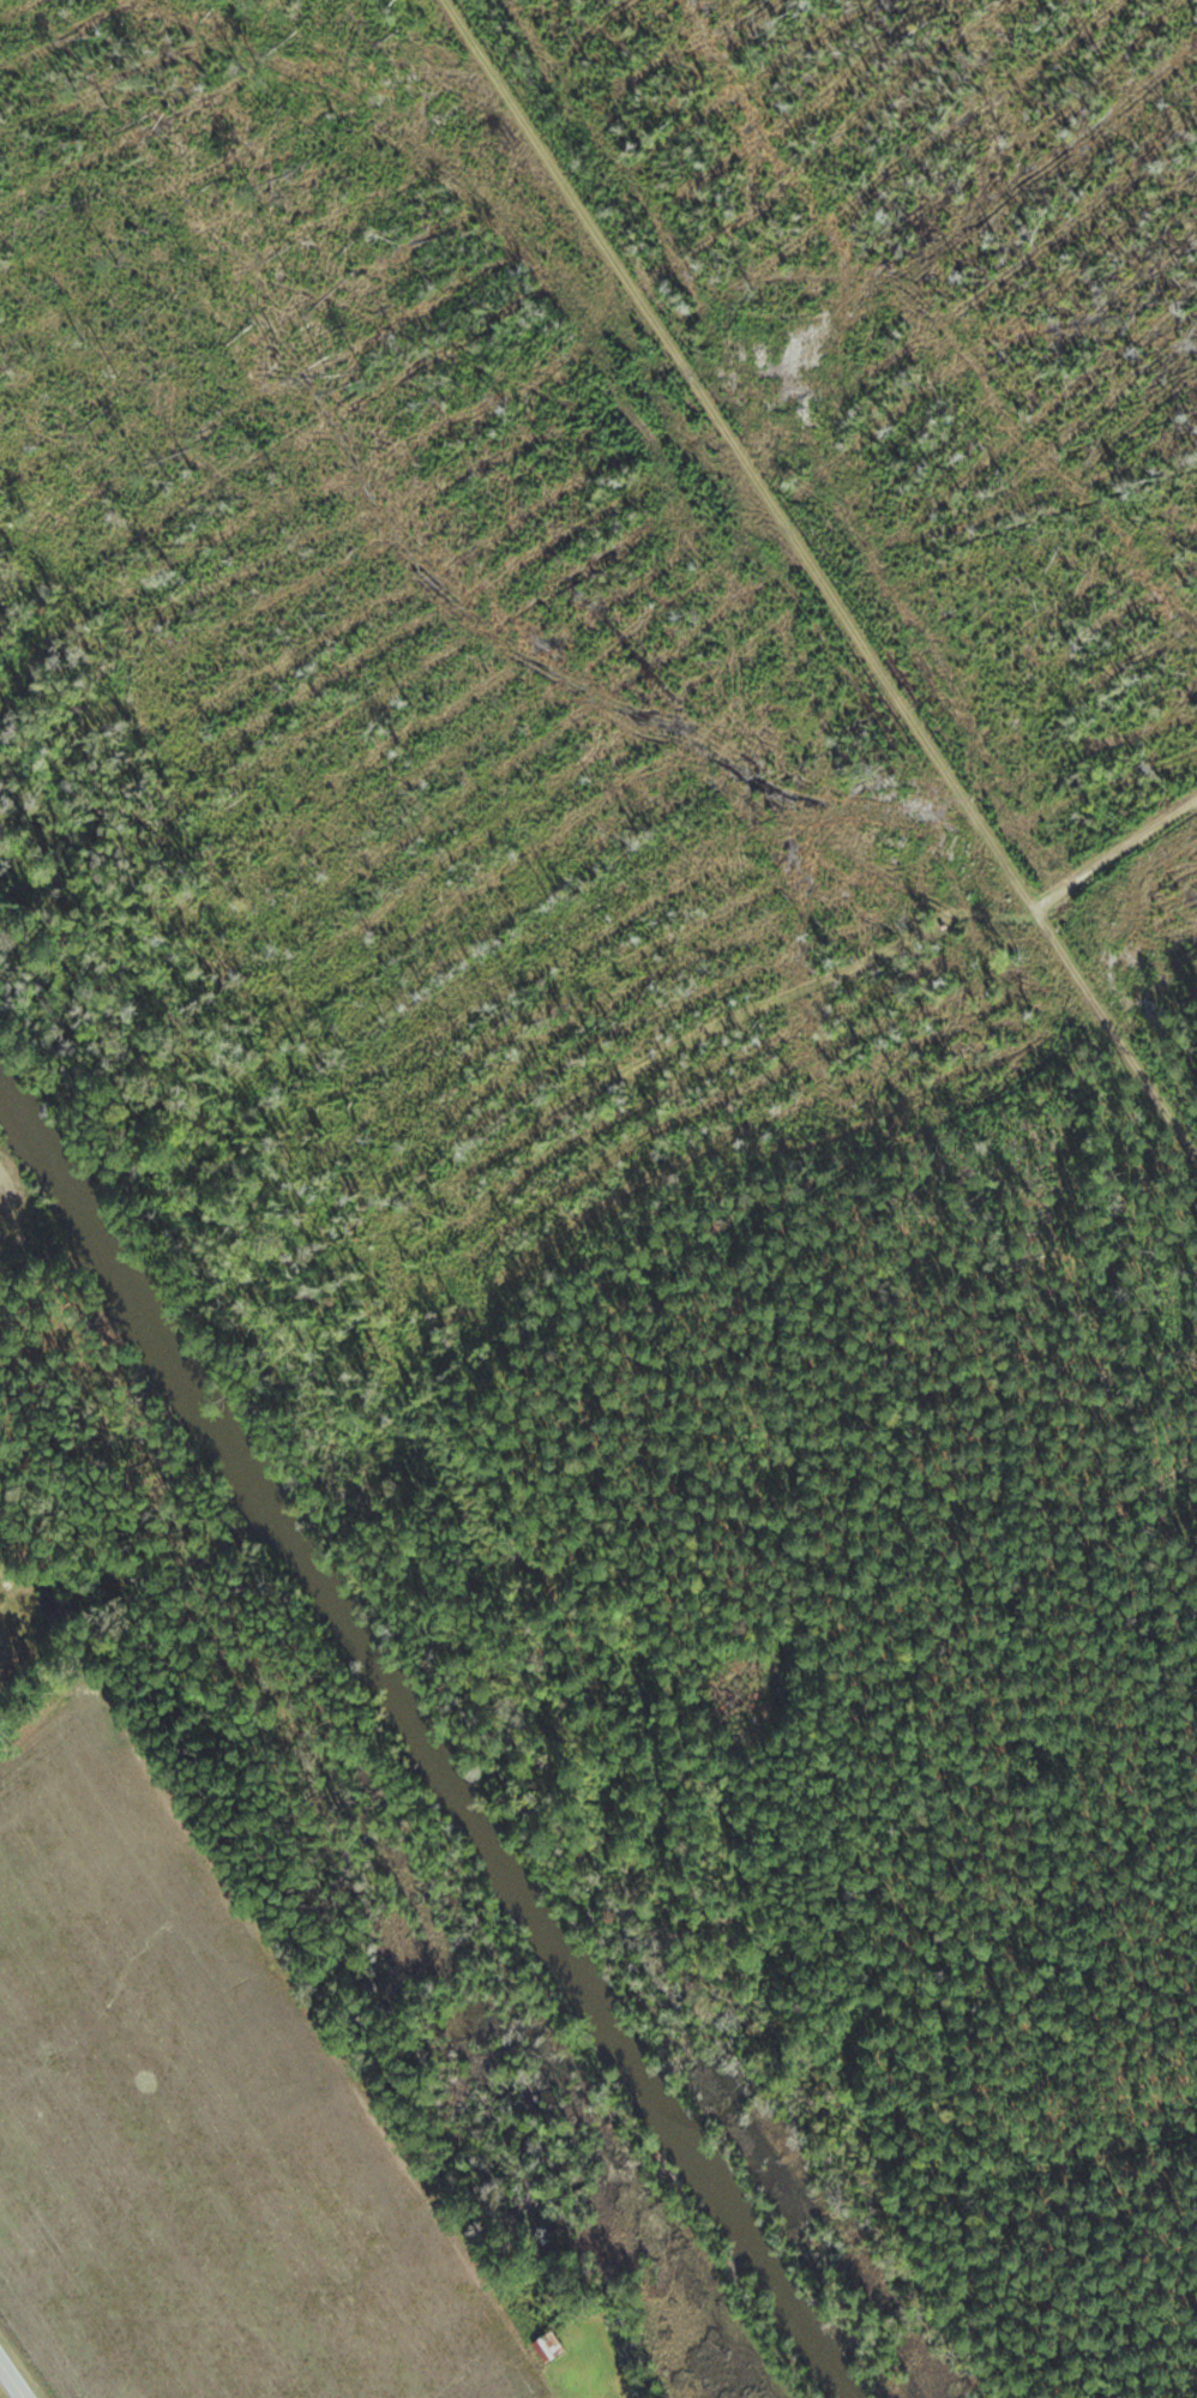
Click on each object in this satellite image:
building: (554, 2349)
road: (16, 2374)

